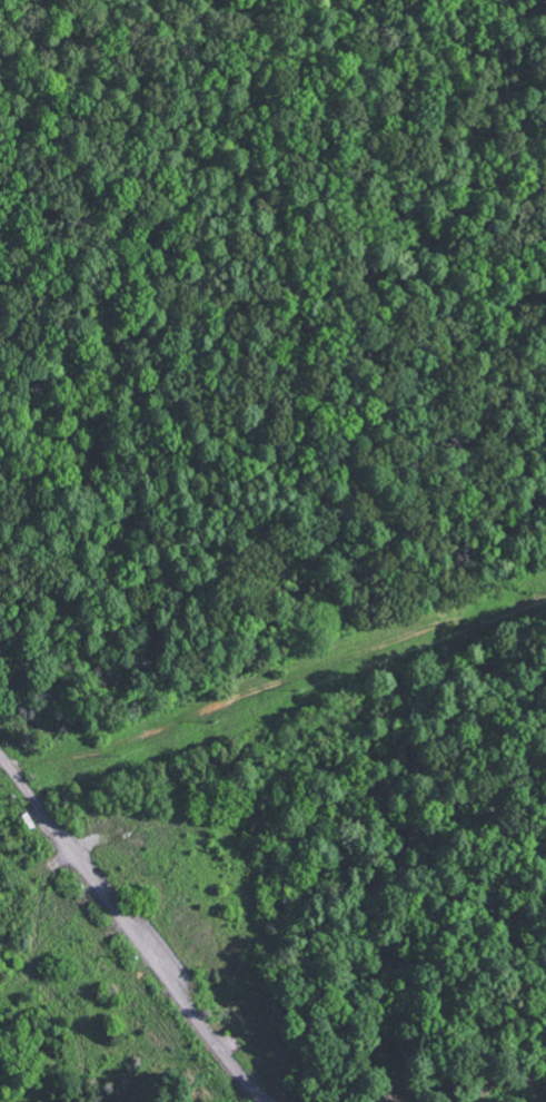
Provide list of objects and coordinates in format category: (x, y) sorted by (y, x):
road: (130, 931)

